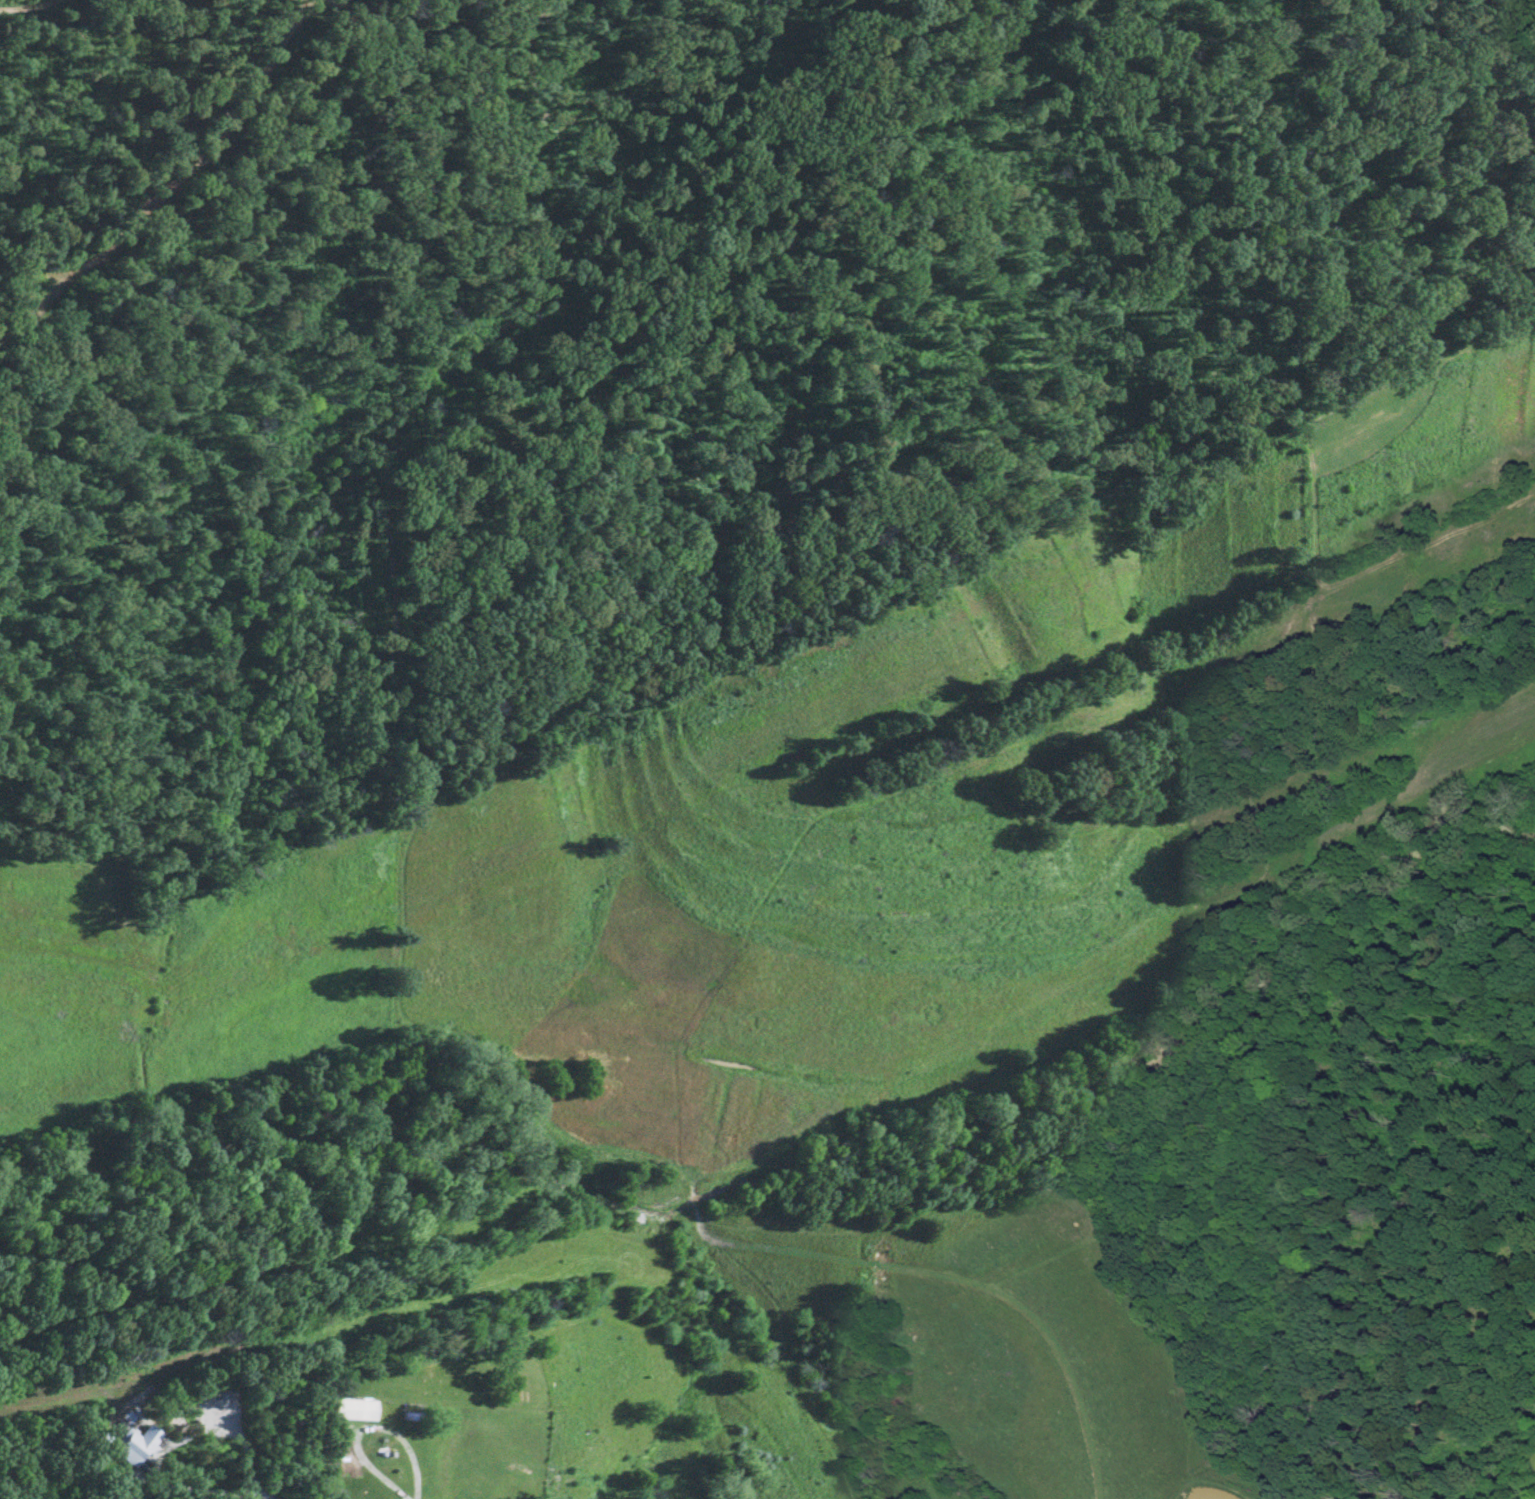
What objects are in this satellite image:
building: (351, 1408)
building: (133, 1443)
road: (407, 1468)

